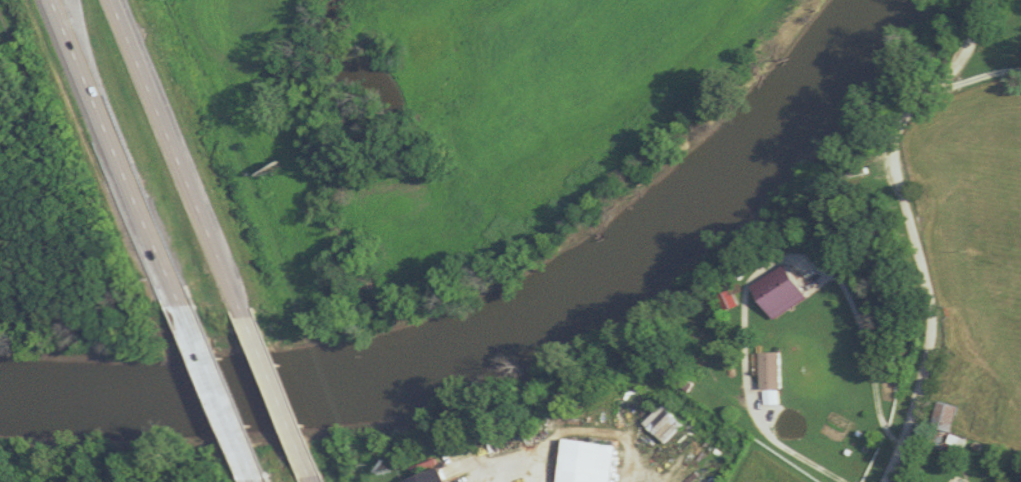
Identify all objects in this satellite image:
road: (978, 79)
road: (186, 168)
road: (125, 176)
road: (912, 231)
road: (762, 268)
building: (777, 293)
river: (502, 333)
building: (767, 371)
road: (273, 377)
road: (214, 390)
building: (940, 417)
road: (301, 449)
road: (241, 454)
building: (584, 463)
building: (432, 477)

